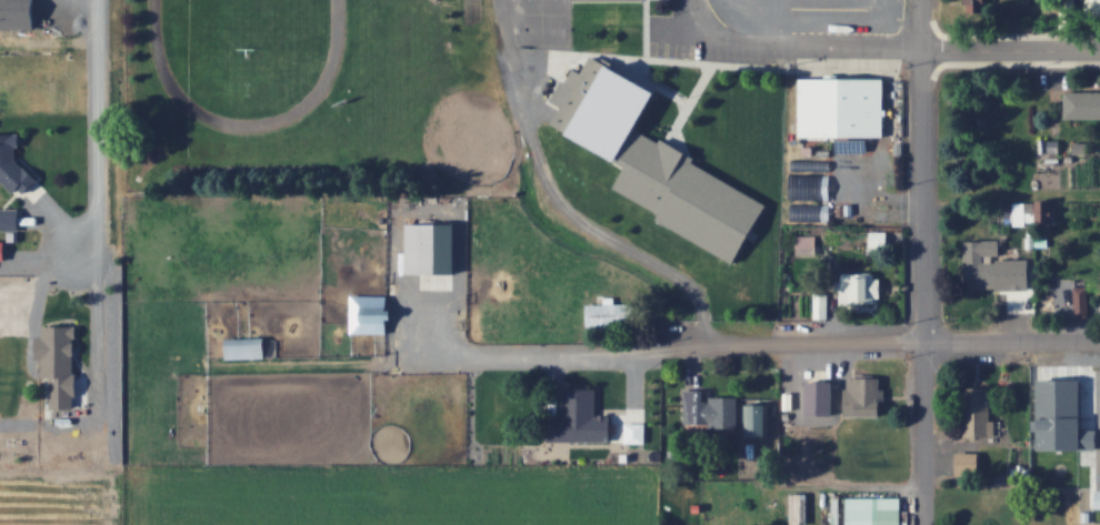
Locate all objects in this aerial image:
building: (982, 4)
building: (1084, 7)
park: (241, 26)
building: (553, 33)
parking lot: (783, 36)
road: (806, 46)
road: (1012, 50)
track: (331, 63)
building: (843, 104)
building: (1082, 104)
road: (97, 131)
building: (659, 168)
building: (810, 198)
road: (557, 205)
building: (1034, 213)
road: (916, 263)
building: (983, 263)
building: (863, 287)
building: (822, 304)
building: (609, 314)
road: (870, 341)
building: (477, 353)
building: (61, 363)
building: (867, 395)
building: (822, 397)
building: (1052, 406)
building: (576, 407)
building: (481, 410)
building: (726, 414)
building: (980, 414)
building: (1098, 499)
building: (800, 507)
building: (874, 511)

